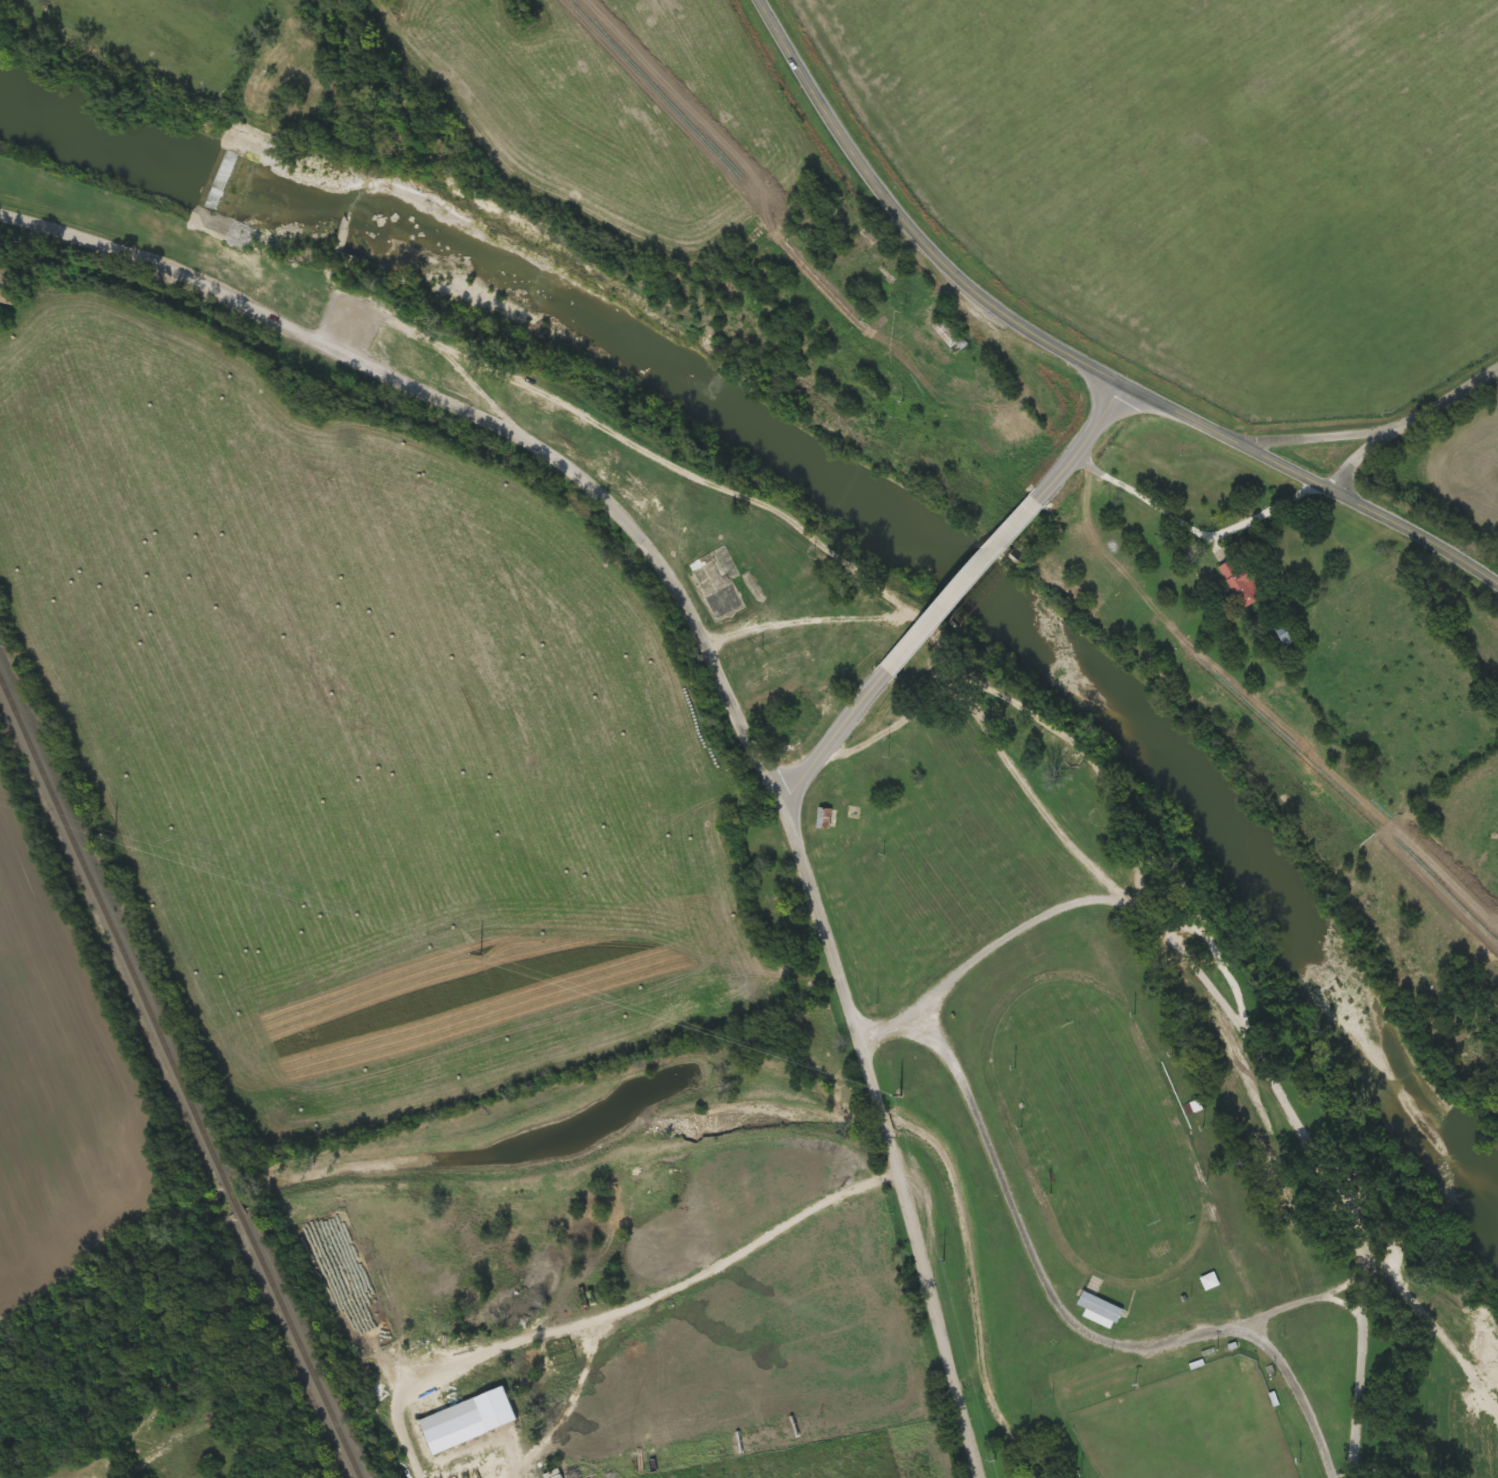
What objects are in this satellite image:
building: (8, 284)
building: (951, 335)
road: (1072, 358)
road: (1455, 396)
road: (1325, 433)
road: (1370, 453)
road: (1100, 454)
river: (884, 510)
road: (1200, 533)
building: (1247, 582)
road: (984, 595)
building: (1289, 633)
road: (708, 656)
building: (787, 735)
road: (843, 743)
road: (1048, 798)
building: (828, 819)
power tower: (112, 833)
railway: (113, 926)
power tower: (478, 953)
road: (889, 1026)
power tower: (898, 1095)
park: (1108, 1130)
railway: (234, 1194)
road: (1351, 1228)
power tower: (941, 1260)
building: (1215, 1282)
building: (1106, 1308)
railway: (300, 1344)
road: (1366, 1398)
power tower: (990, 1460)

